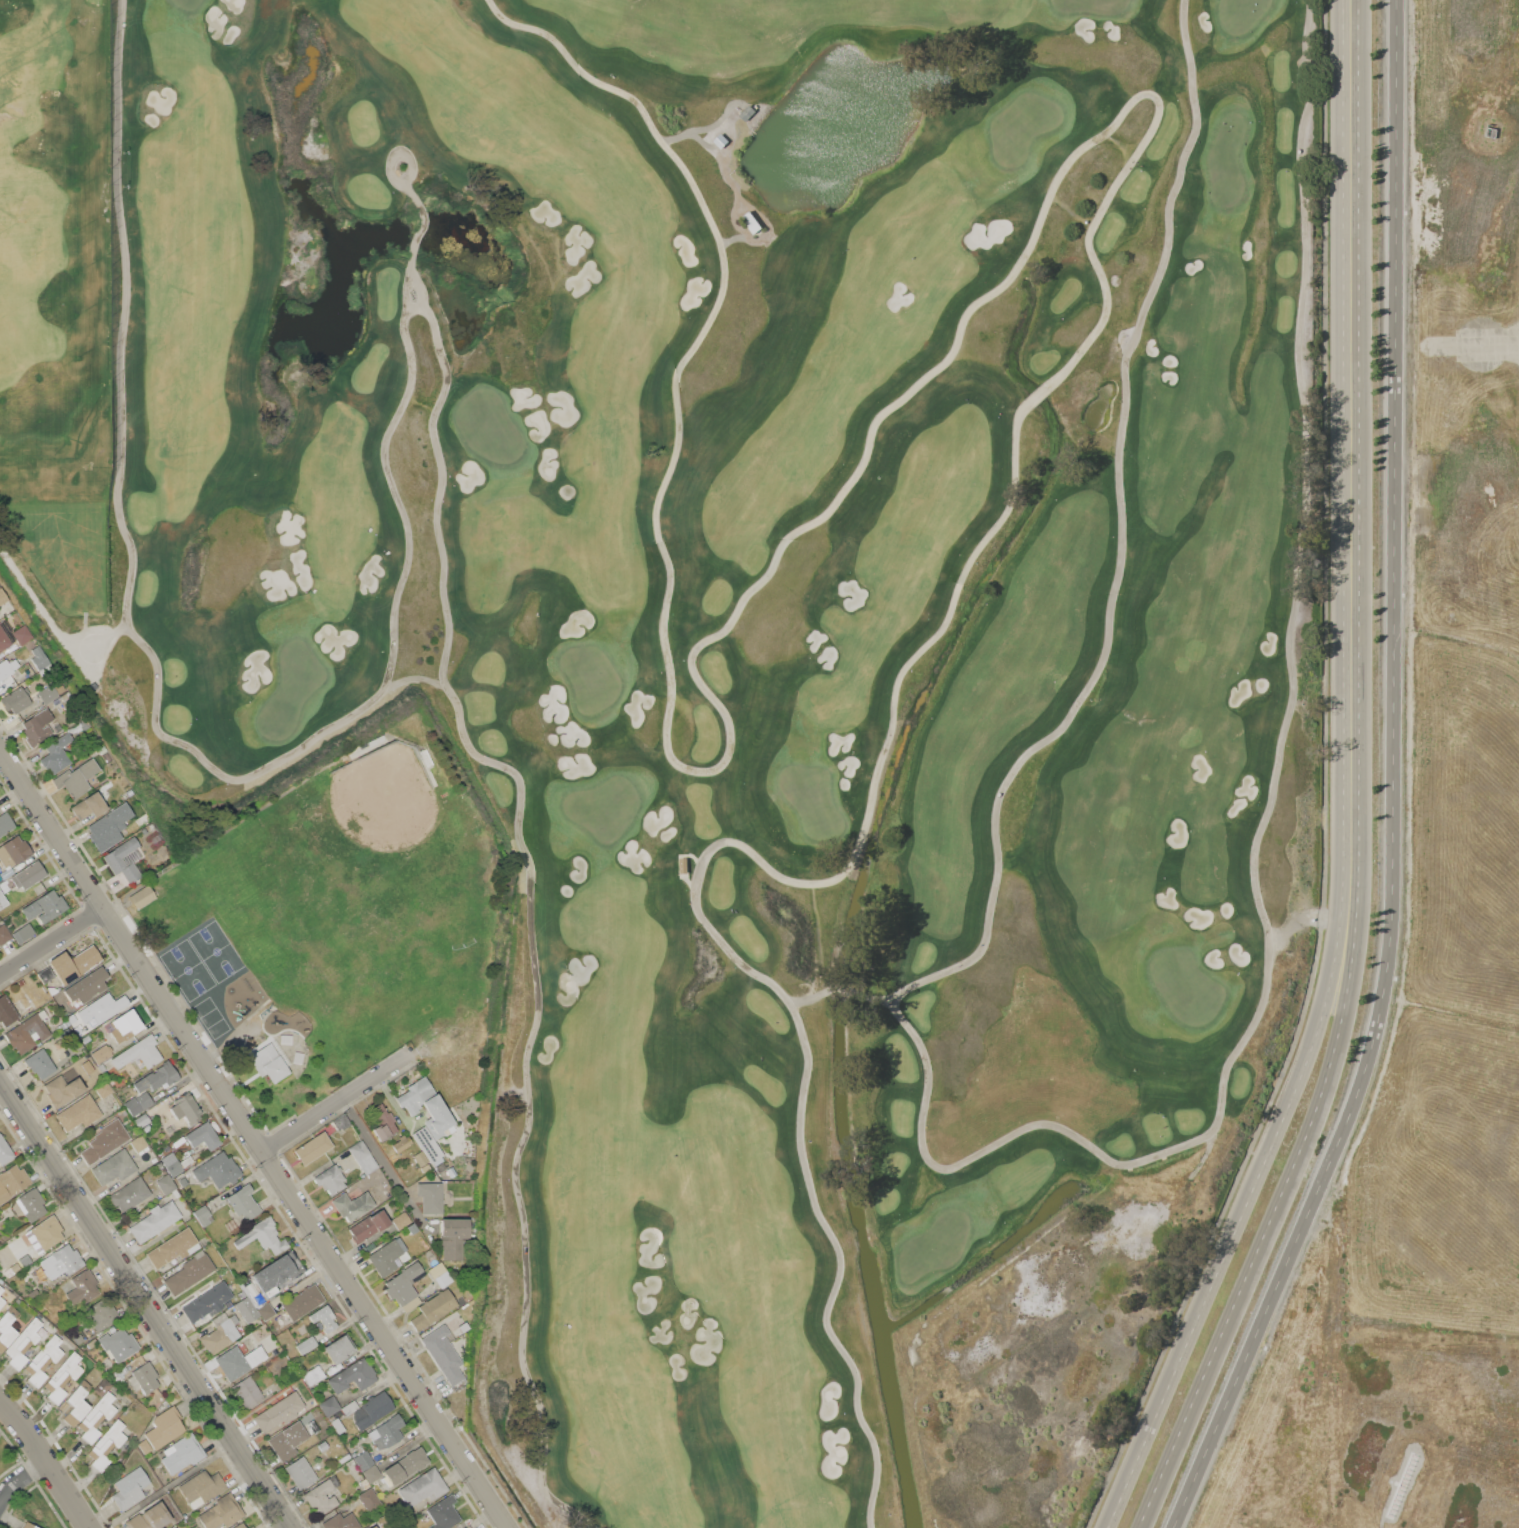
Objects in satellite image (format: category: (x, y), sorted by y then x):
building: (748, 112)
building: (721, 141)
building: (751, 221)
park: (55, 224)
road: (1353, 457)
building: (2, 596)
road: (675, 614)
building: (22, 634)
building: (3, 639)
park: (739, 649)
building: (38, 658)
building: (4, 669)
building: (47, 693)
building: (15, 699)
building: (37, 727)
building: (55, 754)
road: (1101, 759)
building: (75, 778)
road: (1391, 784)
road: (1332, 787)
building: (88, 806)
building: (5, 823)
airport: (1441, 825)
park: (375, 829)
building: (104, 831)
building: (13, 852)
building: (123, 860)
building: (28, 875)
building: (0, 879)
building: (142, 896)
building: (3, 900)
building: (45, 907)
park: (347, 925)
building: (23, 933)
building: (4, 934)
road: (52, 943)
park: (204, 961)
building: (73, 964)
road: (1351, 972)
building: (45, 975)
building: (87, 986)
building: (23, 998)
building: (32, 1004)
building: (27, 1007)
building: (102, 1008)
building: (6, 1012)
building: (126, 1025)
building: (27, 1032)
building: (101, 1053)
building: (139, 1053)
building: (39, 1063)
building: (274, 1069)
building: (158, 1077)
building: (103, 1089)
building: (62, 1090)
building: (143, 1101)
road: (339, 1102)
building: (132, 1107)
building: (185, 1108)
building: (78, 1113)
building: (141, 1120)
building: (438, 1121)
building: (341, 1122)
building: (382, 1122)
building: (203, 1136)
road: (255, 1138)
building: (105, 1141)
building: (138, 1143)
building: (401, 1143)
building: (312, 1148)
building: (5, 1151)
building: (363, 1157)
building: (421, 1161)
road: (383, 1162)
building: (171, 1164)
building: (113, 1167)
building: (217, 1170)
building: (330, 1179)
building: (12, 1182)
building: (165, 1184)
building: (128, 1194)
building: (430, 1196)
building: (243, 1202)
building: (28, 1205)
building: (352, 1205)
building: (202, 1215)
building: (400, 1220)
building: (154, 1221)
road: (1238, 1223)
building: (231, 1226)
building: (368, 1226)
building: (46, 1232)
building: (263, 1236)
building: (452, 1236)
building: (173, 1247)
building: (384, 1258)
building: (61, 1261)
building: (284, 1266)
building: (14, 1268)
building: (189, 1274)
building: (440, 1274)
road: (1249, 1281)
building: (82, 1286)
building: (404, 1287)
building: (1, 1290)
building: (270, 1292)
building: (1, 1301)
building: (207, 1302)
building: (302, 1302)
road: (146, 1303)
building: (433, 1309)
building: (247, 1310)
building: (266, 1311)
building: (98, 1316)
building: (324, 1318)
building: (6, 1327)
building: (220, 1335)
building: (78, 1338)
building: (22, 1343)
building: (118, 1344)
building: (305, 1344)
building: (339, 1348)
building: (443, 1353)
building: (42, 1360)
building: (237, 1362)
building: (313, 1375)
building: (352, 1376)
building: (62, 1377)
building: (145, 1377)
building: (102, 1387)
river: (889, 1391)
building: (248, 1392)
building: (76, 1404)
building: (329, 1406)
building: (350, 1408)
building: (372, 1410)
building: (279, 1412)
building: (95, 1418)
building: (338, 1426)
building: (165, 1428)
building: (388, 1432)
building: (105, 1446)
building: (283, 1446)
building: (323, 1446)
building: (182, 1454)
building: (363, 1460)
road: (47, 1462)
building: (405, 1466)
building: (300, 1473)
building: (371, 1473)
road: (21, 1482)
building: (365, 1483)
building: (423, 1487)
building: (202, 1488)
building: (129, 1489)
building: (321, 1498)
building: (368, 1498)
building: (221, 1513)
building: (443, 1513)
building: (149, 1518)
building: (340, 1522)
building: (28, 1525)
building: (240, 1526)
building: (173, 1527)
building: (174, 1527)
building: (251, 1527)
building: (373, 1527)
building: (468, 1527)

